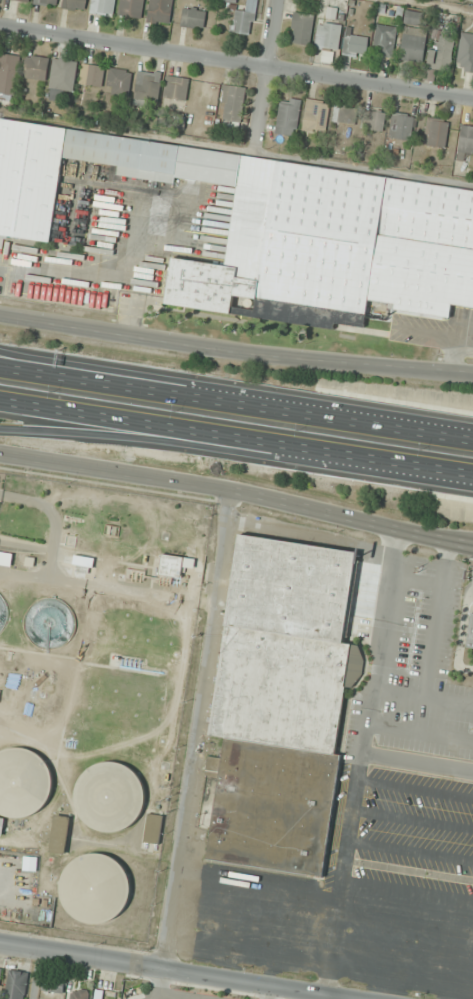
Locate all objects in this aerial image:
building: (17, 0)
building: (48, 2)
building: (75, 4)
building: (103, 7)
building: (131, 8)
building: (160, 11)
building: (193, 18)
building: (245, 19)
building: (416, 19)
building: (302, 28)
building: (328, 36)
building: (385, 40)
building: (356, 45)
building: (414, 45)
building: (442, 50)
building: (465, 53)
road: (236, 63)
building: (36, 67)
building: (9, 74)
building: (64, 74)
building: (93, 75)
road: (266, 78)
building: (119, 82)
building: (148, 86)
building: (176, 91)
building: (233, 105)
building: (345, 114)
building: (316, 115)
building: (288, 117)
building: (375, 120)
building: (402, 127)
building: (437, 133)
building: (466, 138)
building: (274, 228)
road: (235, 351)
road: (132, 374)
road: (236, 400)
road: (236, 435)
road: (225, 450)
road: (237, 491)
building: (171, 565)
road: (94, 589)
building: (1, 618)
building: (470, 633)
building: (282, 703)
building: (24, 783)
building: (109, 797)
building: (1, 825)
building: (153, 829)
building: (60, 834)
building: (95, 889)
road: (174, 971)
road: (38, 974)
building: (0, 976)
building: (17, 985)
building: (53, 985)
building: (79, 994)
building: (98, 998)

